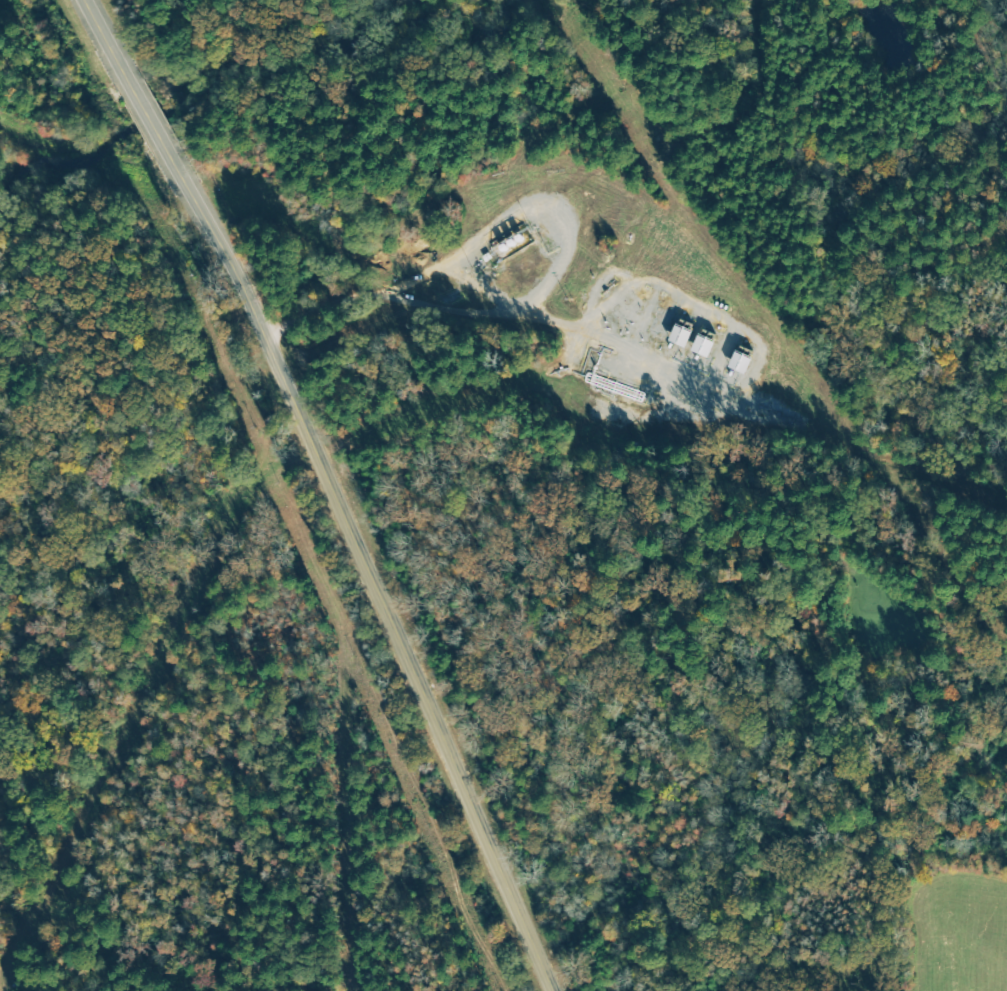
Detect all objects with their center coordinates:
road: (496, 314)
building: (677, 335)
building: (700, 346)
building: (737, 362)
road: (332, 489)

